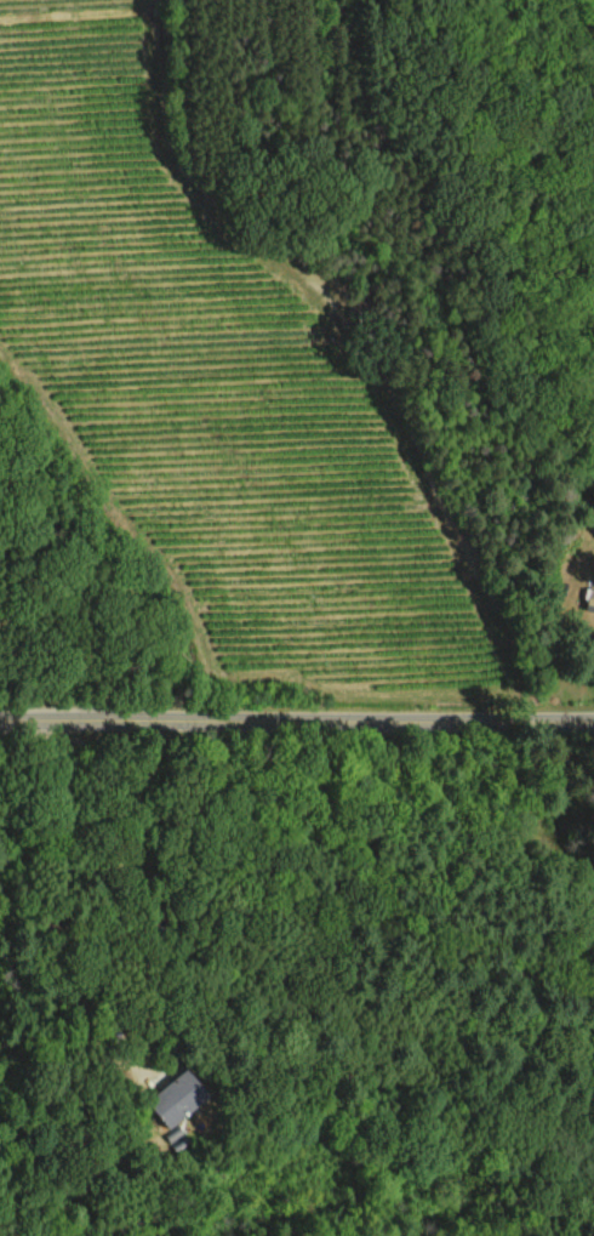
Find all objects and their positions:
building: (589, 599)
road: (296, 712)
road: (58, 911)
building: (175, 1098)

